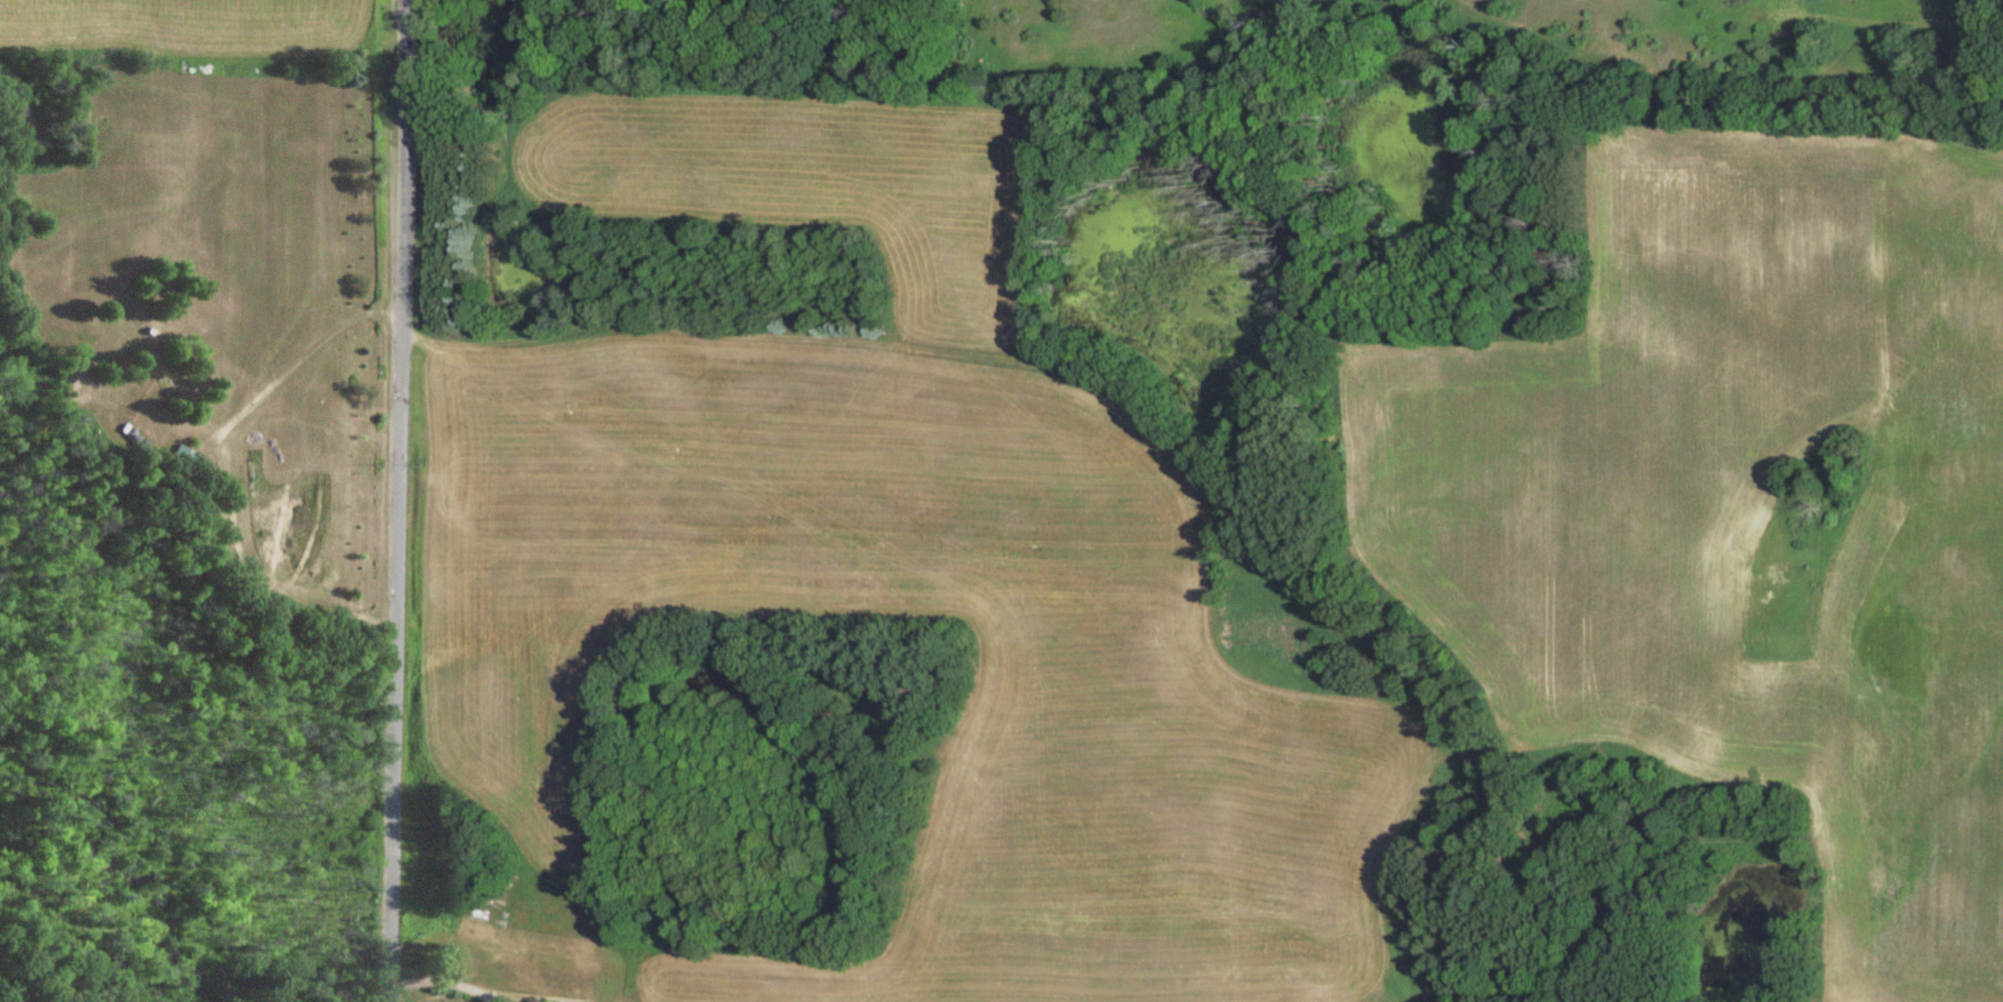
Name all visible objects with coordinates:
road: (401, 501)
road: (446, 982)

